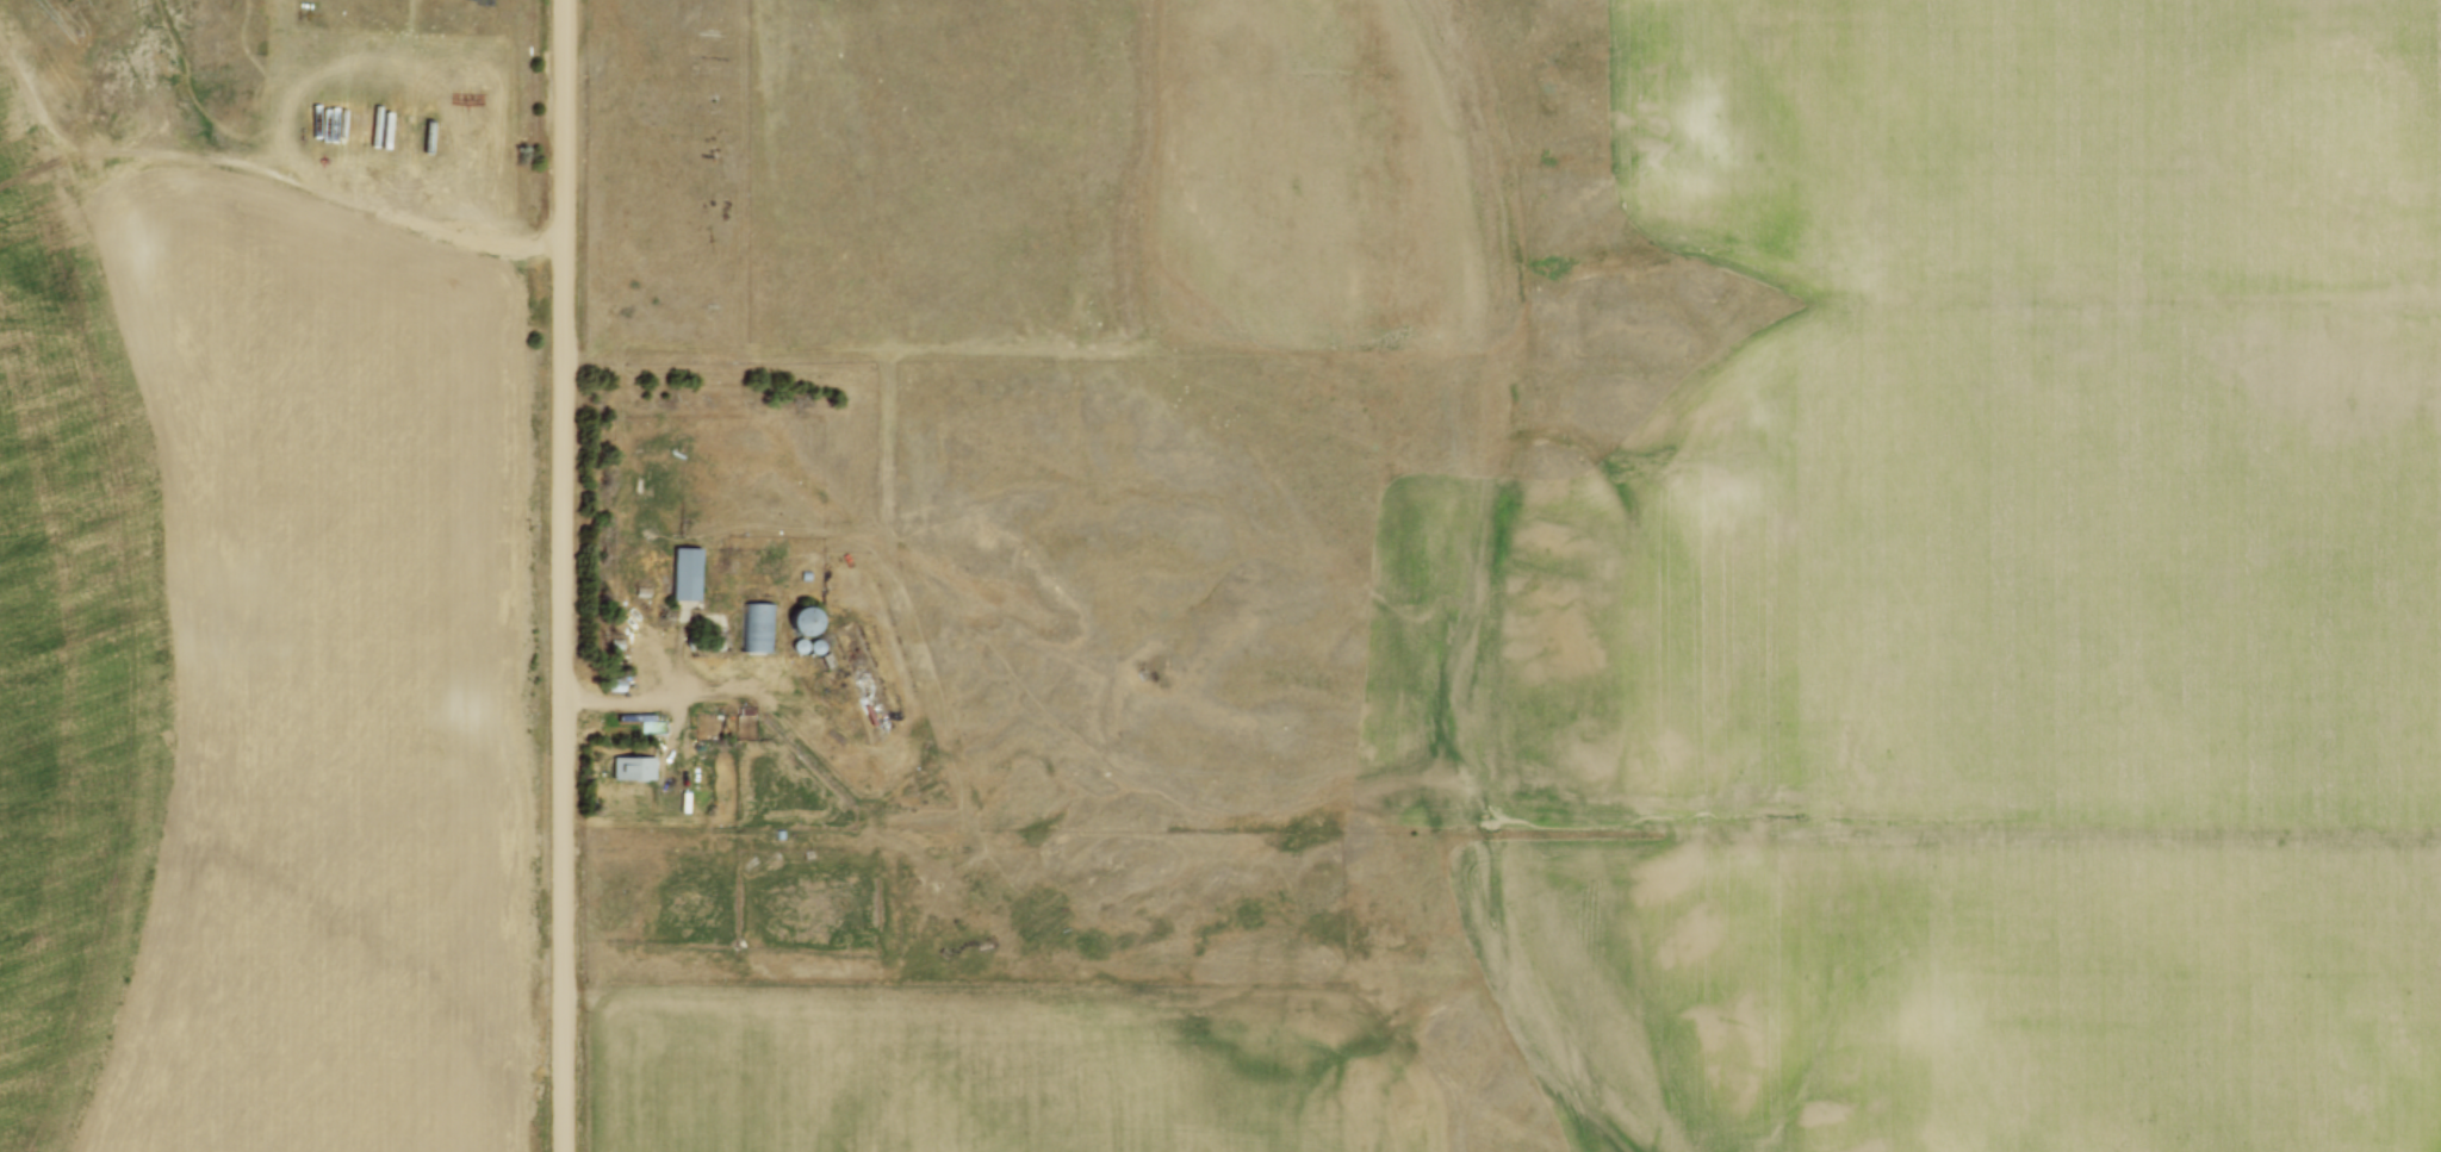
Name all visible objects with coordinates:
building: (685, 572)
road: (565, 575)
crop: (2043, 579)
building: (801, 621)
silo: (801, 621)
building: (757, 629)
building: (799, 646)
silo: (799, 646)
building: (818, 647)
silo: (818, 647)
crop: (263, 666)
road: (673, 697)
road: (800, 737)
building: (633, 767)

